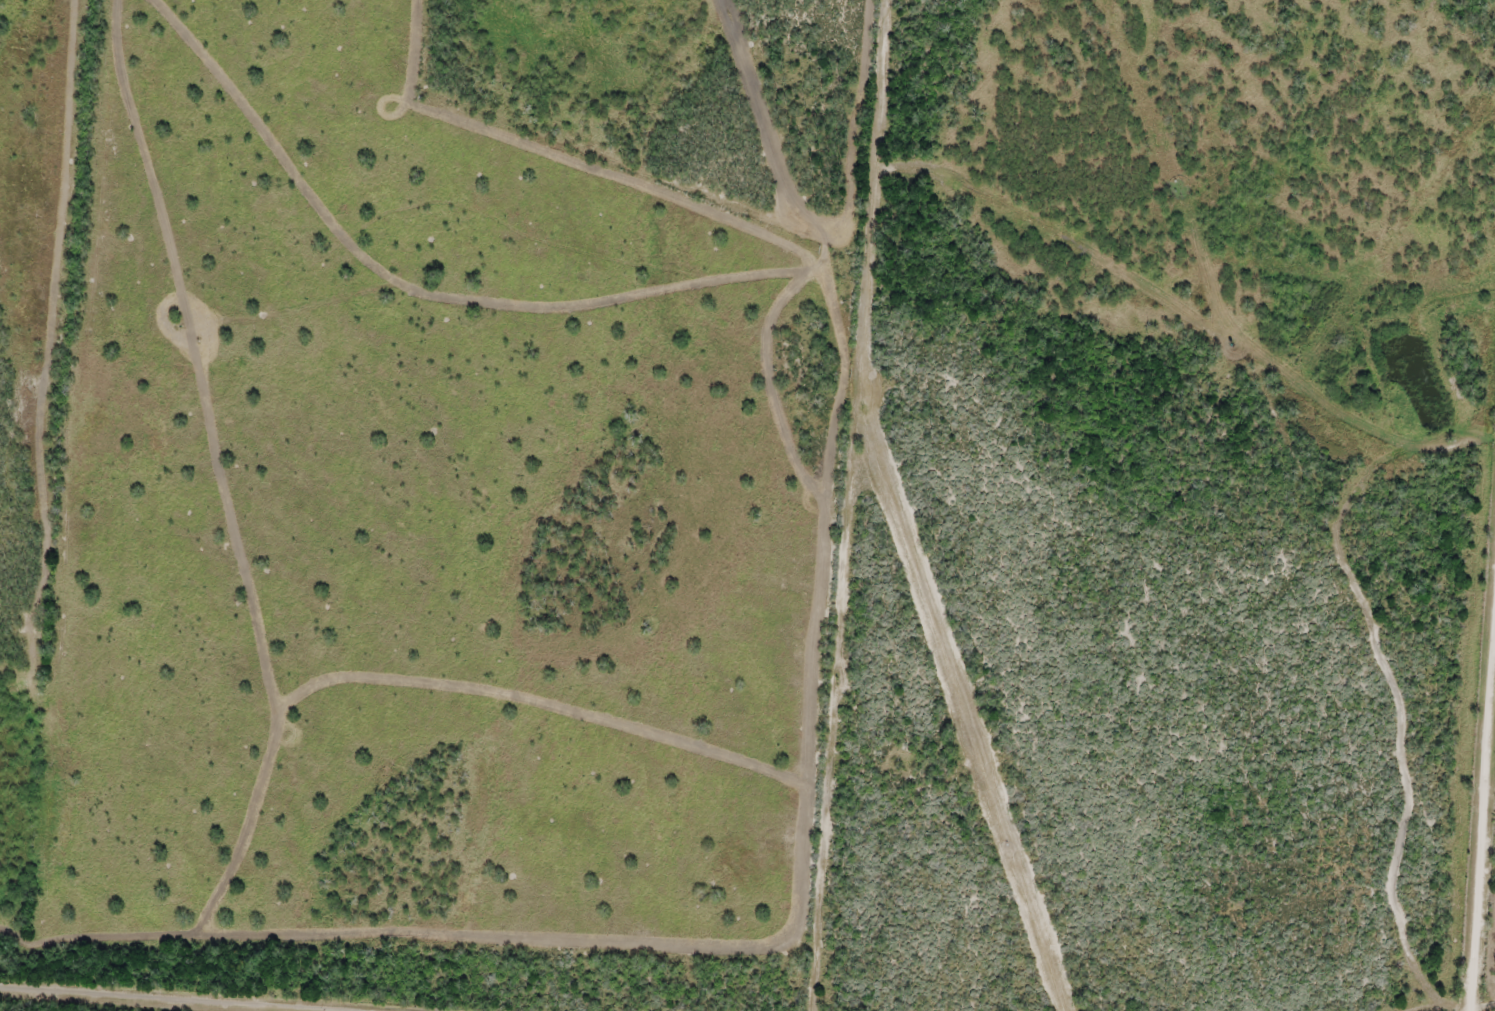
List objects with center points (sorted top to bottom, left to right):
road: (1488, 895)

